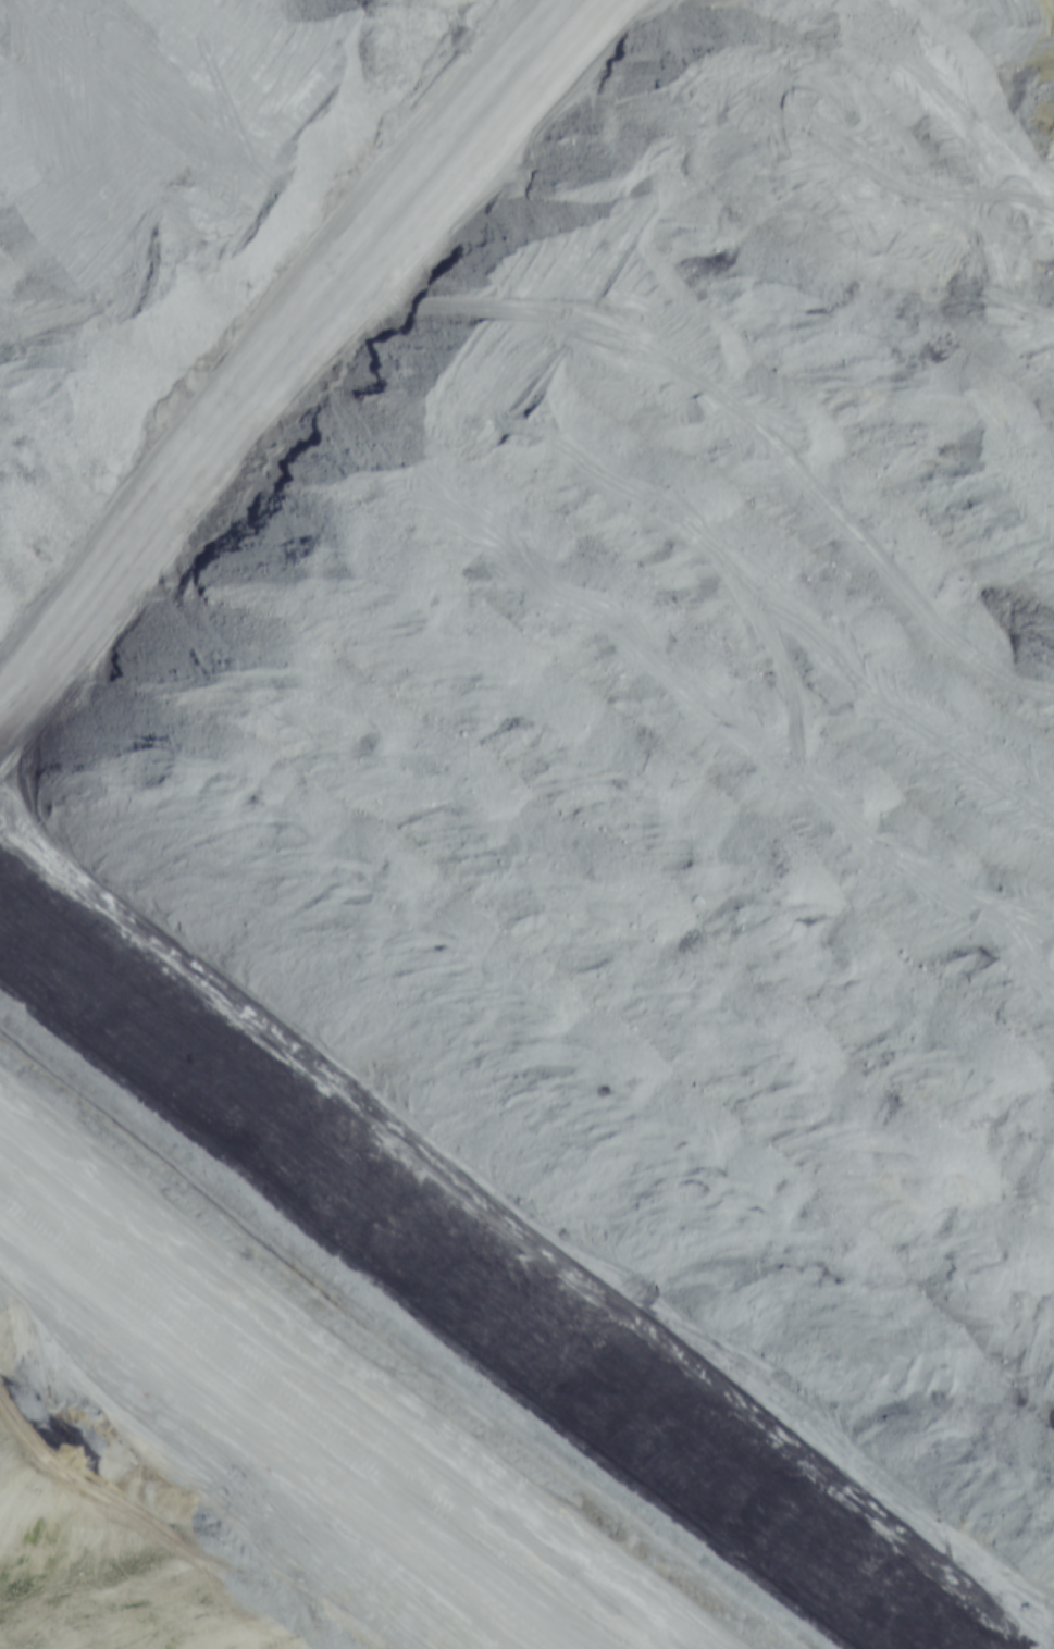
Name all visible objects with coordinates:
road: (288, 1364)

